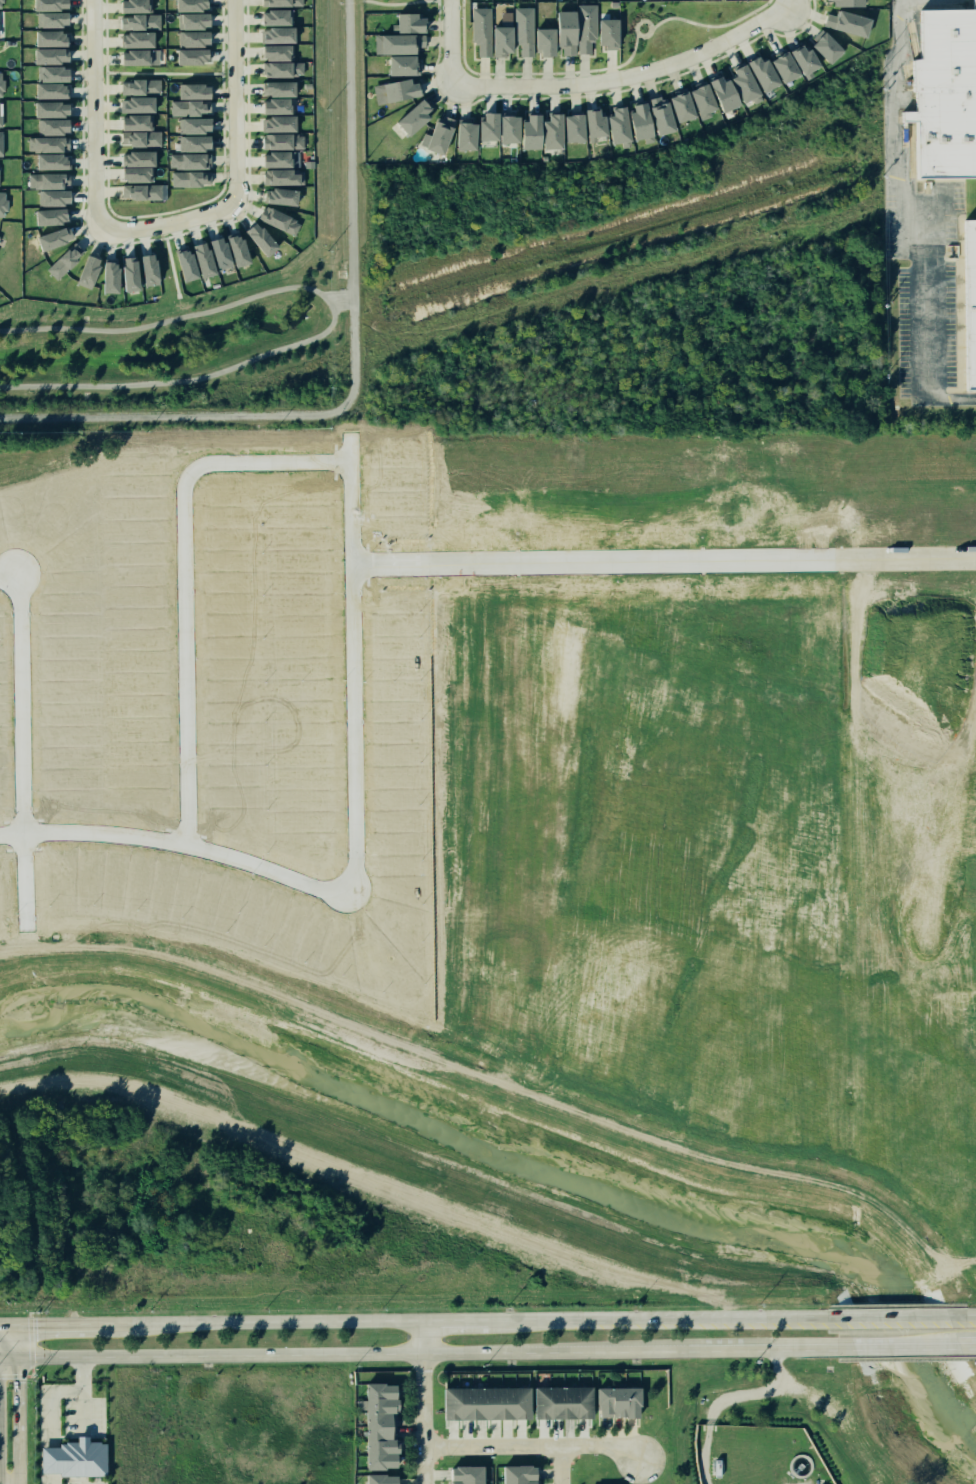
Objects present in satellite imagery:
building: (975, 1)
building: (281, 2)
building: (843, 2)
building: (1, 3)
road: (784, 3)
building: (45, 4)
building: (194, 4)
building: (139, 6)
building: (276, 17)
building: (47, 18)
building: (195, 20)
road: (642, 20)
building: (142, 21)
building: (403, 21)
building: (843, 22)
park: (675, 25)
road: (711, 25)
building: (1, 27)
building: (523, 29)
building: (591, 29)
building: (481, 30)
building: (564, 31)
building: (274, 35)
building: (44, 36)
road: (645, 36)
building: (141, 39)
building: (197, 39)
building: (501, 41)
building: (397, 42)
building: (545, 42)
road: (451, 43)
building: (819, 46)
road: (632, 52)
building: (279, 53)
building: (45, 55)
building: (195, 56)
building: (139, 57)
building: (796, 57)
building: (395, 63)
building: (778, 65)
building: (283, 68)
building: (756, 72)
building: (48, 73)
road: (625, 77)
building: (737, 82)
building: (0, 86)
building: (142, 87)
building: (274, 89)
building: (44, 90)
building: (391, 90)
building: (196, 91)
building: (718, 92)
building: (942, 92)
building: (696, 97)
road: (236, 100)
building: (142, 105)
building: (274, 105)
building: (674, 105)
building: (192, 107)
building: (45, 109)
road: (95, 112)
building: (2, 114)
building: (408, 115)
building: (654, 116)
building: (634, 119)
building: (138, 122)
building: (589, 122)
building: (275, 123)
building: (613, 124)
building: (196, 125)
building: (482, 125)
building: (502, 127)
building: (567, 127)
building: (49, 128)
building: (546, 130)
building: (525, 131)
building: (434, 134)
building: (460, 134)
building: (143, 139)
building: (279, 141)
building: (1, 143)
building: (197, 144)
building: (46, 145)
building: (143, 158)
building: (276, 159)
building: (47, 161)
building: (192, 161)
building: (3, 174)
building: (140, 174)
building: (280, 176)
building: (193, 179)
building: (47, 181)
building: (144, 191)
building: (280, 196)
building: (51, 198)
road: (910, 198)
building: (2, 203)
building: (49, 217)
building: (279, 220)
road: (169, 224)
road: (169, 235)
building: (258, 236)
road: (157, 238)
building: (51, 239)
building: (237, 250)
building: (220, 252)
building: (204, 259)
building: (60, 261)
building: (187, 266)
building: (144, 268)
building: (82, 271)
building: (123, 274)
road: (174, 275)
building: (104, 276)
road: (250, 297)
building: (965, 299)
road: (327, 300)
road: (92, 328)
park: (172, 336)
road: (354, 378)
road: (178, 380)
road: (947, 400)
road: (907, 559)
road: (597, 565)
road: (184, 577)
road: (20, 743)
crop: (477, 764)
road: (357, 845)
building: (1, 873)
road: (502, 1085)
river: (536, 1167)
road: (962, 1313)
road: (896, 1314)
road: (679, 1317)
road: (467, 1320)
road: (262, 1321)
road: (5, 1324)
road: (58, 1324)
traffic signals: (10, 1325)
road: (906, 1345)
road: (967, 1345)
road: (773, 1346)
road: (632, 1350)
road: (284, 1354)
traffic signals: (10, 1358)
road: (724, 1399)
road: (421, 1401)
building: (569, 1401)
building: (622, 1402)
building: (491, 1403)
road: (10, 1404)
parking lot: (62, 1404)
road: (52, 1409)
building: (385, 1427)
road: (5, 1430)
road: (531, 1447)
building: (78, 1460)
road: (557, 1465)
building: (799, 1466)
storage tank: (799, 1466)
building: (470, 1475)
building: (522, 1475)
building: (386, 1479)

